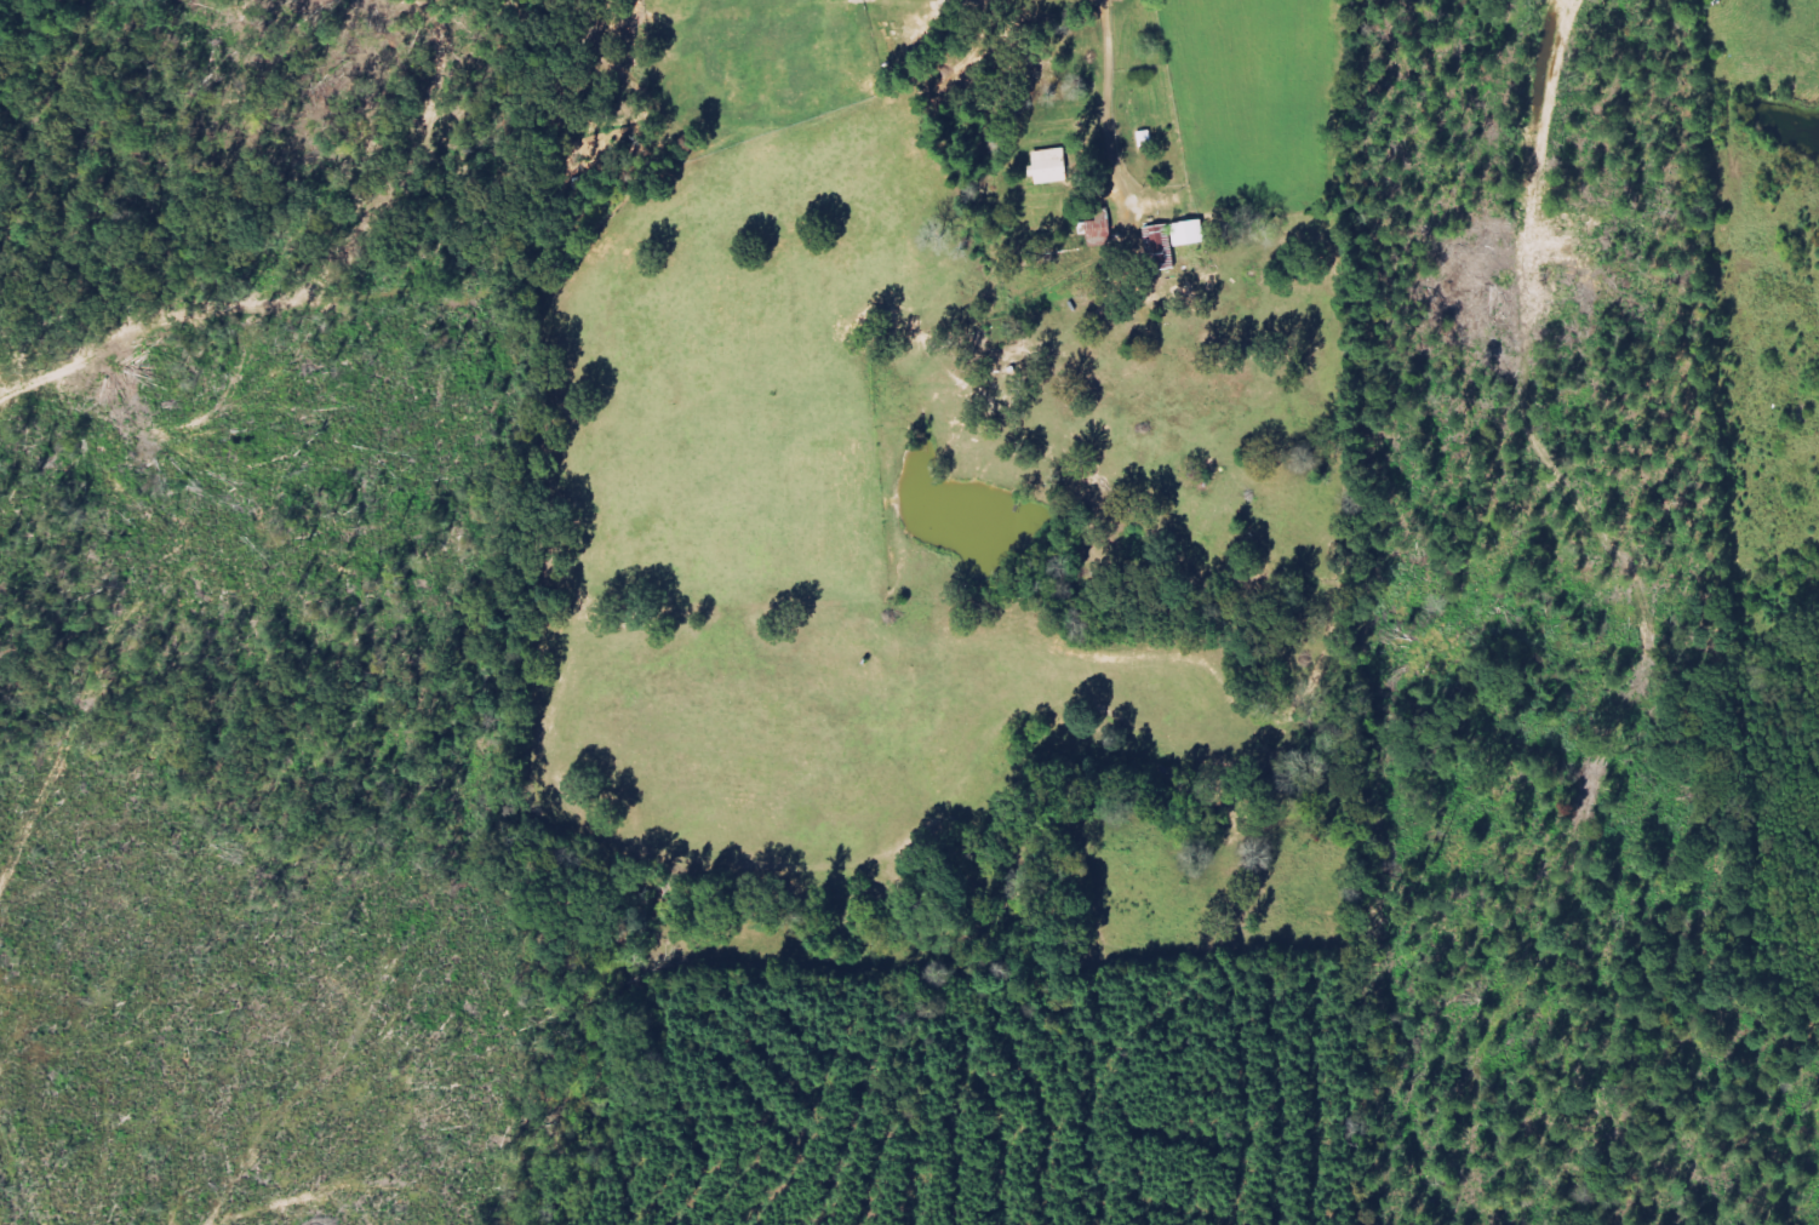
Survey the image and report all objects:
road: (1041, 19)
road: (1134, 97)
building: (1054, 166)
building: (1176, 242)

